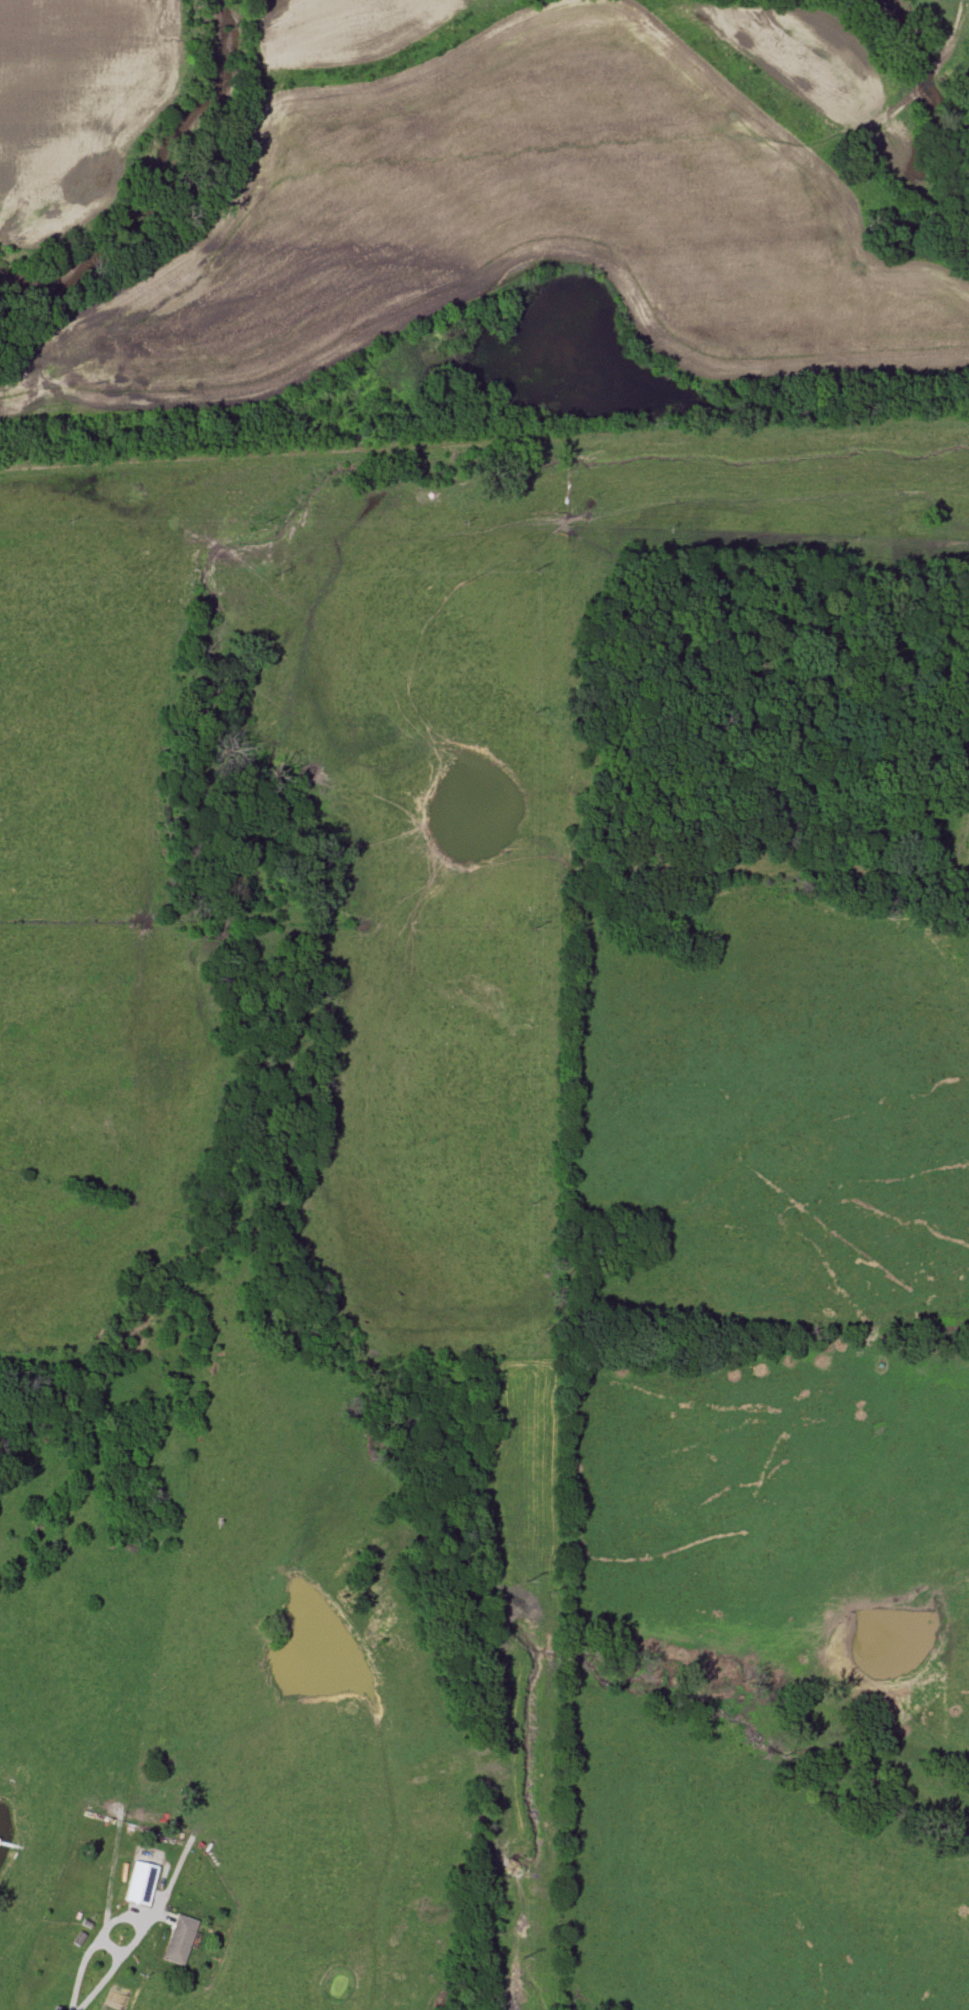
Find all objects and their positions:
river: (921, 46)
river: (950, 176)
river: (191, 210)
building: (141, 1884)
road: (140, 1920)
building: (178, 1941)
road: (114, 1945)
road: (81, 1969)
road: (100, 1983)

